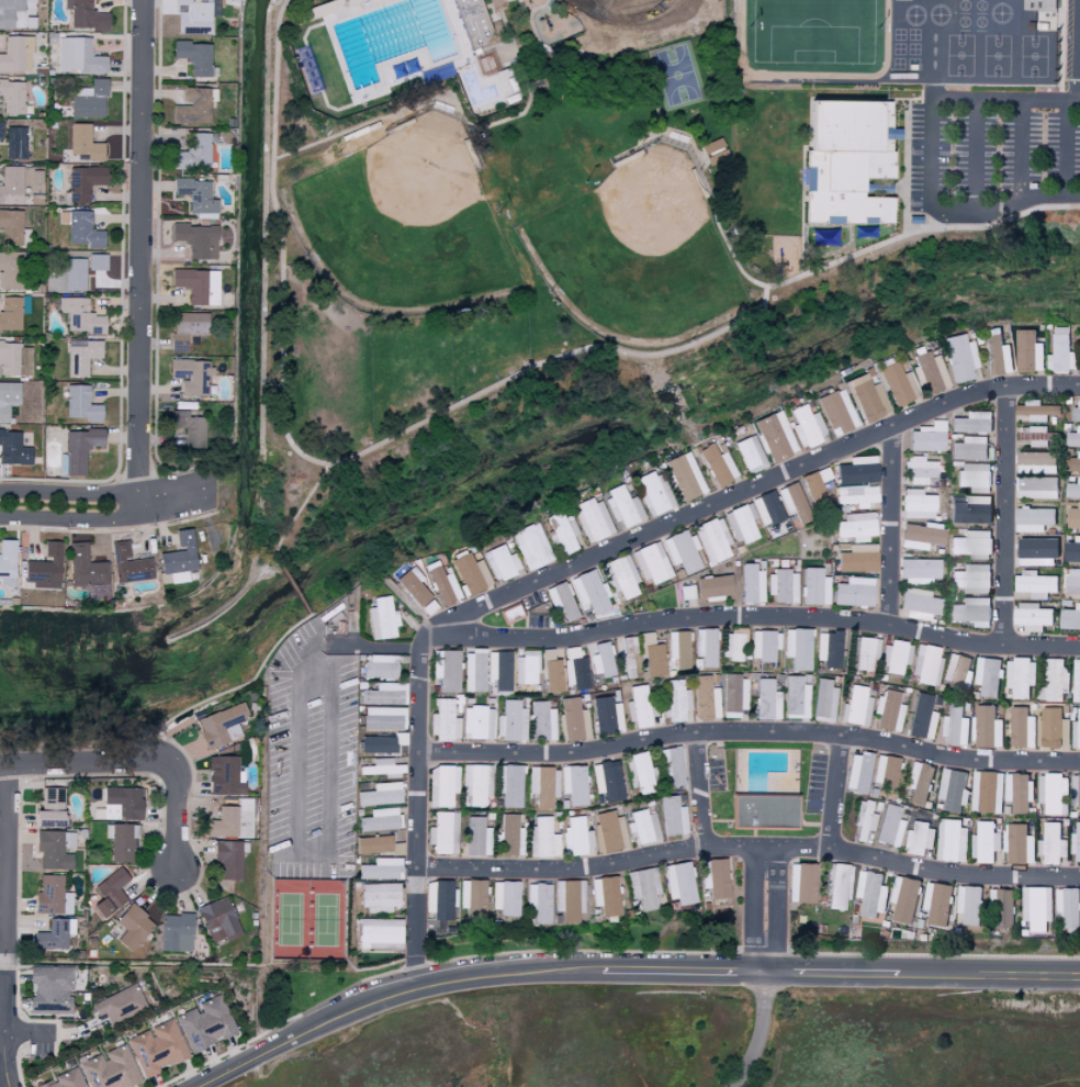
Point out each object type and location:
building: (362, 1)
building: (1037, 4)
road: (538, 8)
building: (603, 9)
building: (9, 12)
building: (192, 14)
building: (88, 15)
building: (472, 23)
park: (813, 36)
road: (595, 40)
parking lot: (1072, 46)
building: (18, 54)
road: (531, 54)
building: (80, 55)
building: (192, 56)
park: (676, 75)
road: (649, 87)
road: (1079, 92)
building: (13, 96)
building: (90, 99)
building: (191, 105)
road: (459, 111)
road: (660, 124)
building: (1, 130)
building: (18, 142)
building: (86, 143)
road: (634, 145)
road: (474, 148)
road: (1021, 150)
road: (1066, 150)
building: (713, 152)
building: (191, 153)
parking lot: (992, 154)
road: (929, 157)
road: (974, 158)
building: (847, 163)
building: (87, 181)
building: (12, 184)
park: (507, 194)
building: (194, 197)
road: (1004, 218)
building: (913, 220)
road: (936, 222)
building: (12, 226)
park: (403, 226)
building: (83, 228)
building: (194, 239)
park: (635, 255)
road: (138, 259)
building: (99, 261)
building: (11, 270)
building: (76, 273)
building: (194, 284)
building: (13, 312)
building: (82, 316)
building: (188, 323)
building: (1059, 351)
building: (1079, 351)
building: (1026, 352)
building: (992, 354)
building: (956, 357)
building: (10, 358)
building: (83, 358)
building: (26, 361)
building: (190, 376)
building: (868, 376)
building: (910, 378)
building: (864, 397)
building: (9, 399)
building: (83, 403)
building: (1031, 411)
building: (833, 412)
building: (1075, 413)
building: (971, 423)
building: (187, 428)
road: (408, 430)
building: (785, 432)
building: (1033, 436)
building: (924, 437)
building: (1072, 438)
building: (14, 448)
building: (968, 448)
building: (81, 450)
building: (746, 453)
building: (1034, 462)
building: (1071, 463)
building: (712, 464)
building: (853, 470)
building: (919, 470)
building: (680, 475)
building: (972, 477)
road: (751, 485)
building: (813, 486)
building: (1035, 488)
building: (1071, 489)
road: (101, 493)
building: (650, 493)
building: (853, 494)
building: (788, 497)
building: (915, 504)
building: (764, 507)
building: (967, 513)
road: (1003, 515)
road: (295, 516)
building: (1071, 517)
road: (102, 519)
building: (589, 519)
building: (1031, 519)
building: (739, 524)
road: (887, 525)
building: (853, 526)
building: (560, 533)
building: (919, 535)
building: (711, 540)
building: (970, 545)
building: (1070, 550)
building: (679, 551)
building: (181, 557)
building: (854, 559)
building: (9, 562)
building: (497, 562)
building: (649, 563)
building: (130, 564)
building: (87, 567)
building: (47, 568)
building: (918, 570)
building: (466, 573)
building: (970, 579)
building: (1071, 581)
building: (749, 583)
building: (1034, 584)
building: (439, 585)
building: (710, 586)
building: (779, 586)
building: (812, 586)
building: (414, 591)
building: (587, 591)
road: (295, 592)
building: (684, 592)
building: (851, 592)
building: (559, 601)
building: (918, 604)
building: (968, 612)
road: (758, 615)
building: (1030, 616)
building: (380, 618)
building: (1068, 618)
road: (423, 635)
building: (732, 645)
building: (763, 645)
road: (372, 647)
building: (677, 648)
building: (705, 648)
building: (798, 648)
building: (828, 649)
building: (865, 652)
building: (651, 657)
building: (893, 658)
building: (615, 659)
building: (376, 665)
building: (925, 665)
building: (525, 668)
building: (445, 670)
building: (497, 670)
building: (473, 671)
building: (550, 672)
building: (956, 672)
building: (577, 673)
building: (988, 676)
building: (1021, 679)
building: (1055, 680)
building: (1076, 681)
road: (227, 691)
building: (382, 694)
building: (732, 694)
building: (795, 697)
building: (705, 698)
building: (823, 698)
building: (675, 699)
building: (766, 699)
building: (637, 707)
building: (854, 707)
building: (887, 710)
building: (916, 715)
building: (604, 716)
building: (445, 719)
building: (570, 720)
building: (494, 721)
building: (539, 721)
building: (223, 726)
building: (970, 727)
building: (1021, 728)
building: (1053, 728)
building: (1076, 731)
road: (749, 732)
road: (295, 748)
road: (325, 764)
building: (671, 766)
road: (80, 769)
building: (639, 772)
building: (868, 772)
building: (226, 775)
building: (605, 782)
building: (918, 783)
building: (477, 784)
building: (440, 785)
building: (573, 785)
building: (508, 786)
building: (542, 786)
road: (697, 788)
building: (952, 789)
building: (987, 792)
building: (1076, 792)
road: (832, 793)
building: (380, 794)
building: (1016, 794)
building: (1054, 794)
road: (415, 802)
building: (124, 803)
building: (54, 807)
building: (761, 813)
road: (177, 816)
building: (670, 816)
building: (380, 819)
building: (865, 820)
building: (227, 822)
building: (642, 826)
building: (889, 827)
building: (607, 831)
building: (445, 832)
building: (506, 834)
building: (576, 836)
building: (476, 837)
building: (542, 838)
building: (69, 839)
building: (918, 839)
building: (950, 840)
building: (123, 841)
building: (1001, 844)
building: (1051, 844)
building: (1076, 844)
building: (375, 845)
road: (746, 848)
building: (54, 851)
road: (5, 858)
building: (229, 860)
building: (712, 877)
building: (677, 883)
building: (799, 883)
building: (837, 884)
building: (642, 887)
building: (115, 892)
building: (870, 894)
building: (379, 895)
building: (54, 896)
building: (505, 897)
building: (604, 897)
building: (438, 899)
building: (902, 899)
building: (473, 900)
building: (567, 900)
building: (935, 903)
building: (540, 904)
building: (967, 906)
building: (1001, 907)
building: (1068, 907)
building: (1035, 908)
road: (751, 911)
road: (772, 911)
park: (307, 919)
building: (222, 920)
building: (135, 927)
building: (378, 931)
building: (178, 932)
building: (56, 934)
road: (3, 962)
road: (414, 972)
road: (682, 973)
road: (831, 974)
road: (990, 975)
road: (439, 985)
building: (53, 989)
building: (121, 1004)
building: (209, 1023)
road: (756, 1031)
road: (21, 1032)
road: (3, 1034)
building: (160, 1047)
road: (243, 1064)
building: (112, 1069)
road: (758, 1071)
building: (68, 1079)
road: (1062, 1083)

